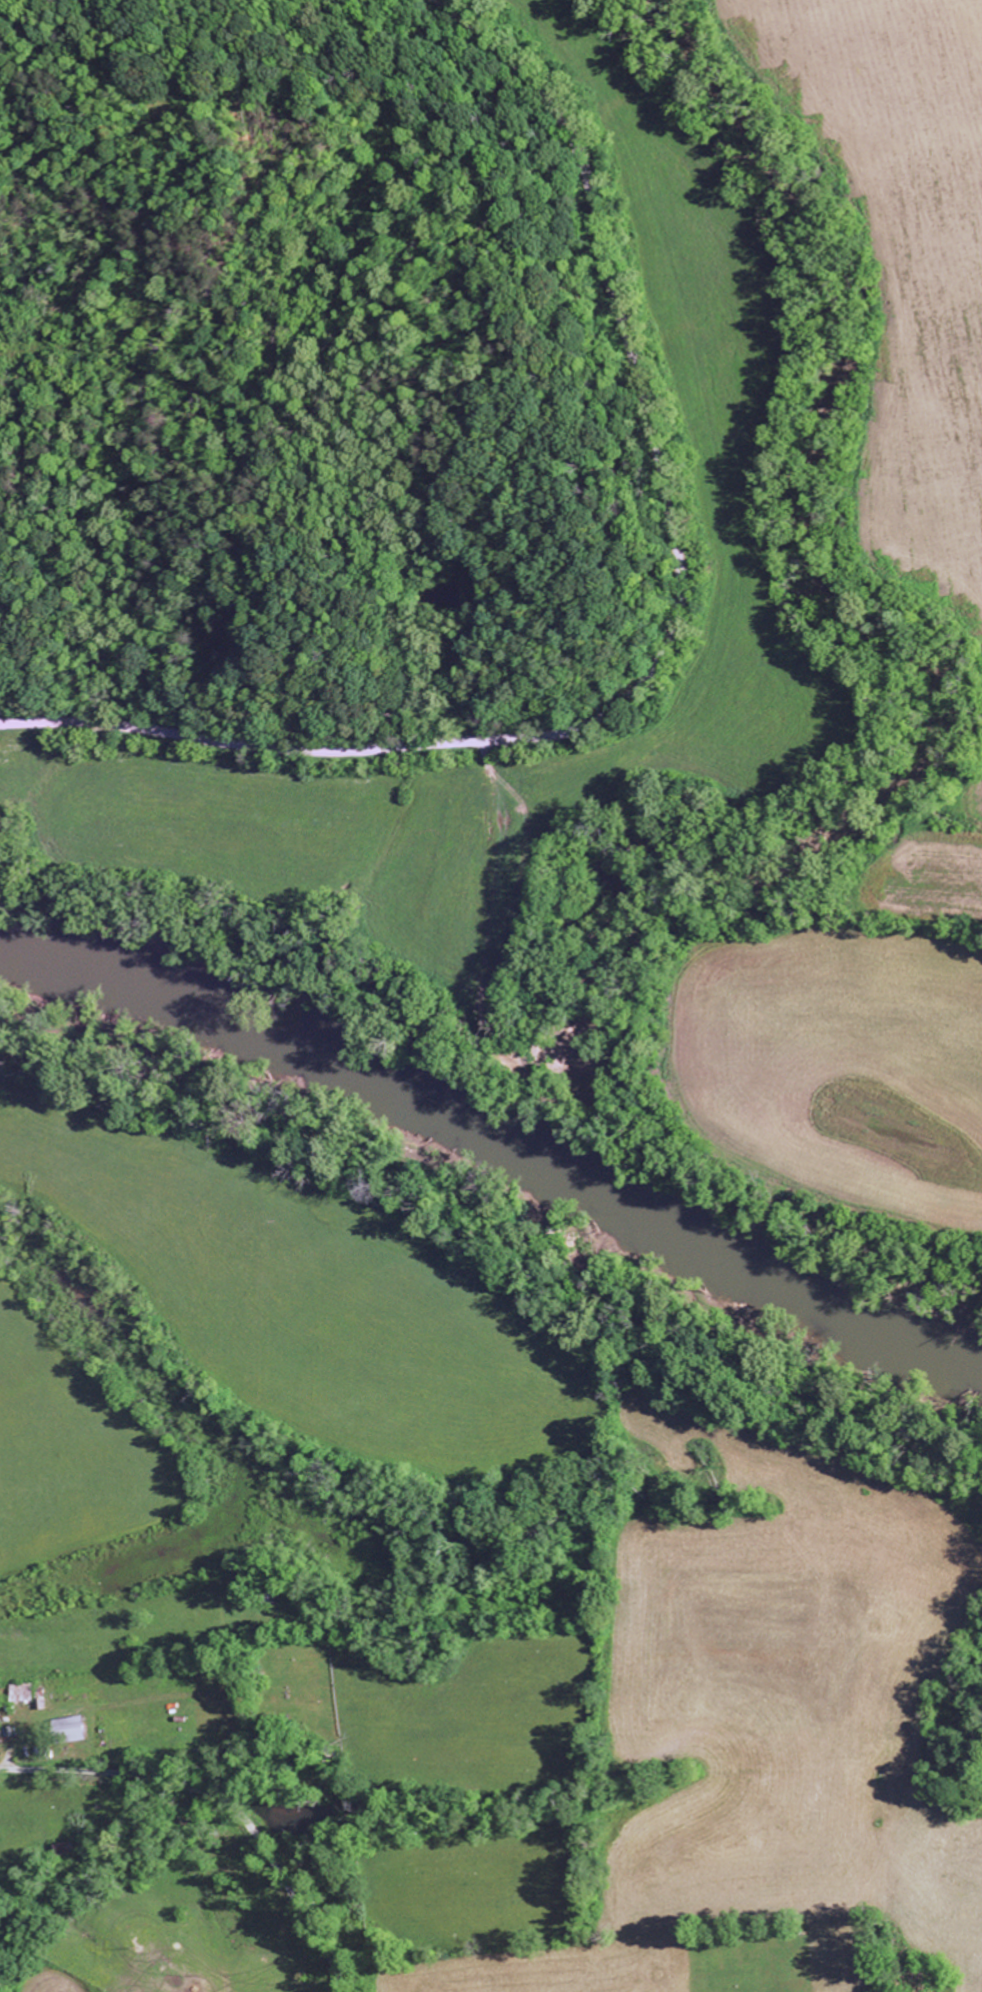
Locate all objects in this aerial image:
road: (666, 637)
river: (493, 1128)
building: (77, 1730)
road: (286, 1889)

